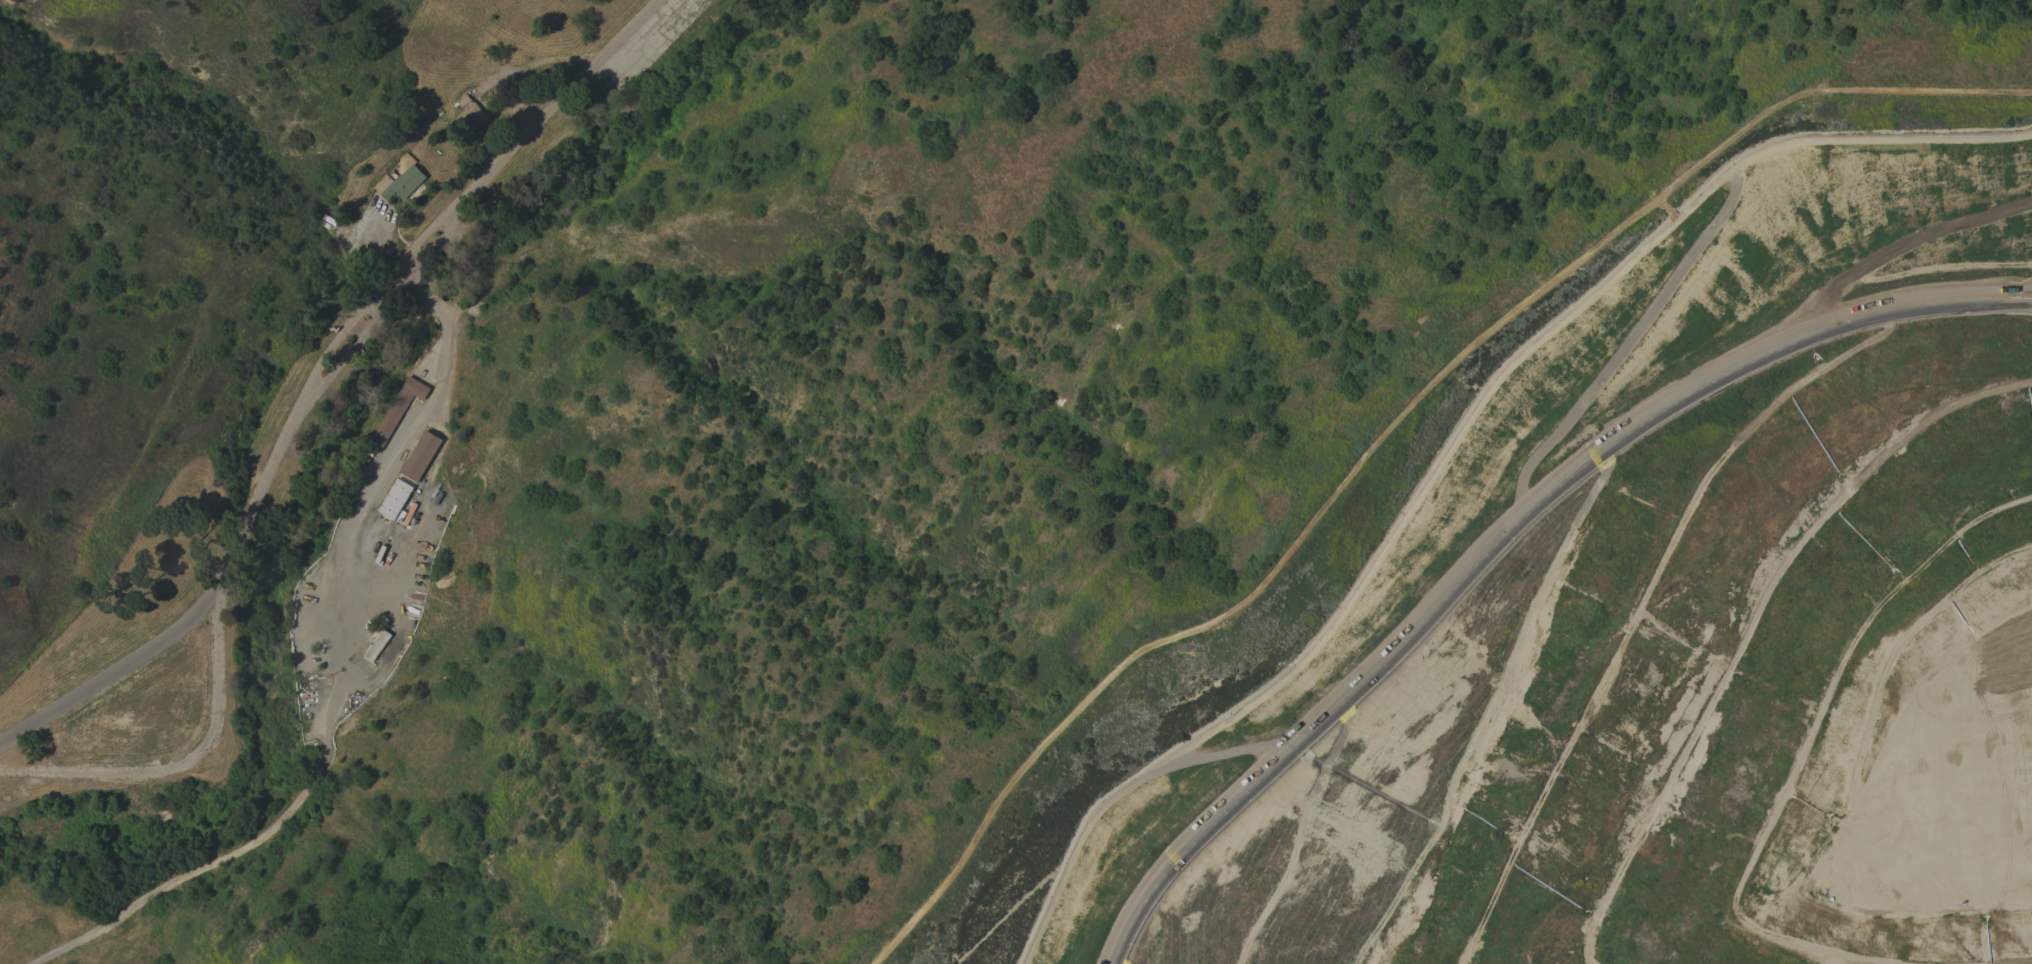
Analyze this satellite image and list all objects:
building: (469, 110)
building: (402, 183)
road: (1916, 304)
road: (319, 371)
building: (397, 408)
road: (1457, 440)
building: (419, 456)
building: (393, 498)
road: (1421, 609)
landfill: (1614, 617)
landfill: (1614, 617)
building: (375, 645)
road: (333, 669)
road: (193, 759)

